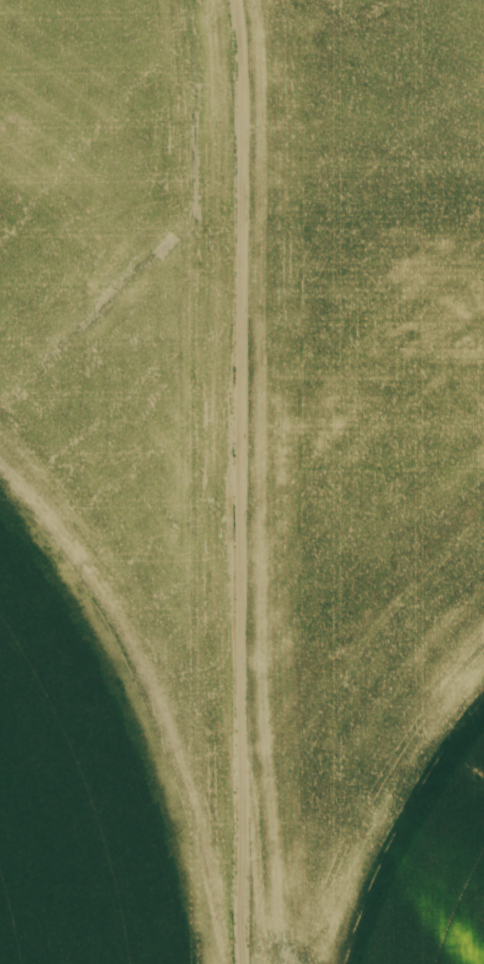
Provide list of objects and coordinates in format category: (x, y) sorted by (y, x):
crop: (242, 482)

